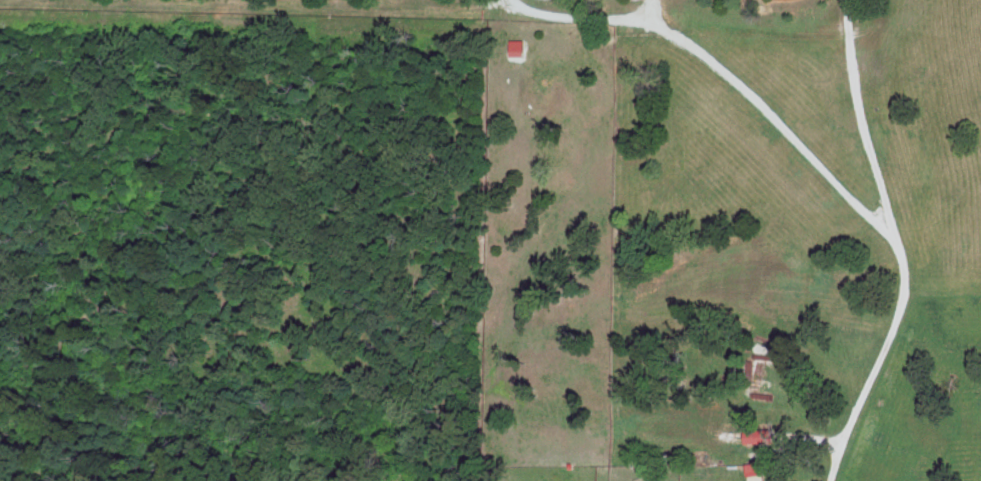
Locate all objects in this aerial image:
building: (519, 47)
road: (768, 116)
road: (861, 121)
road: (877, 361)
building: (761, 435)

